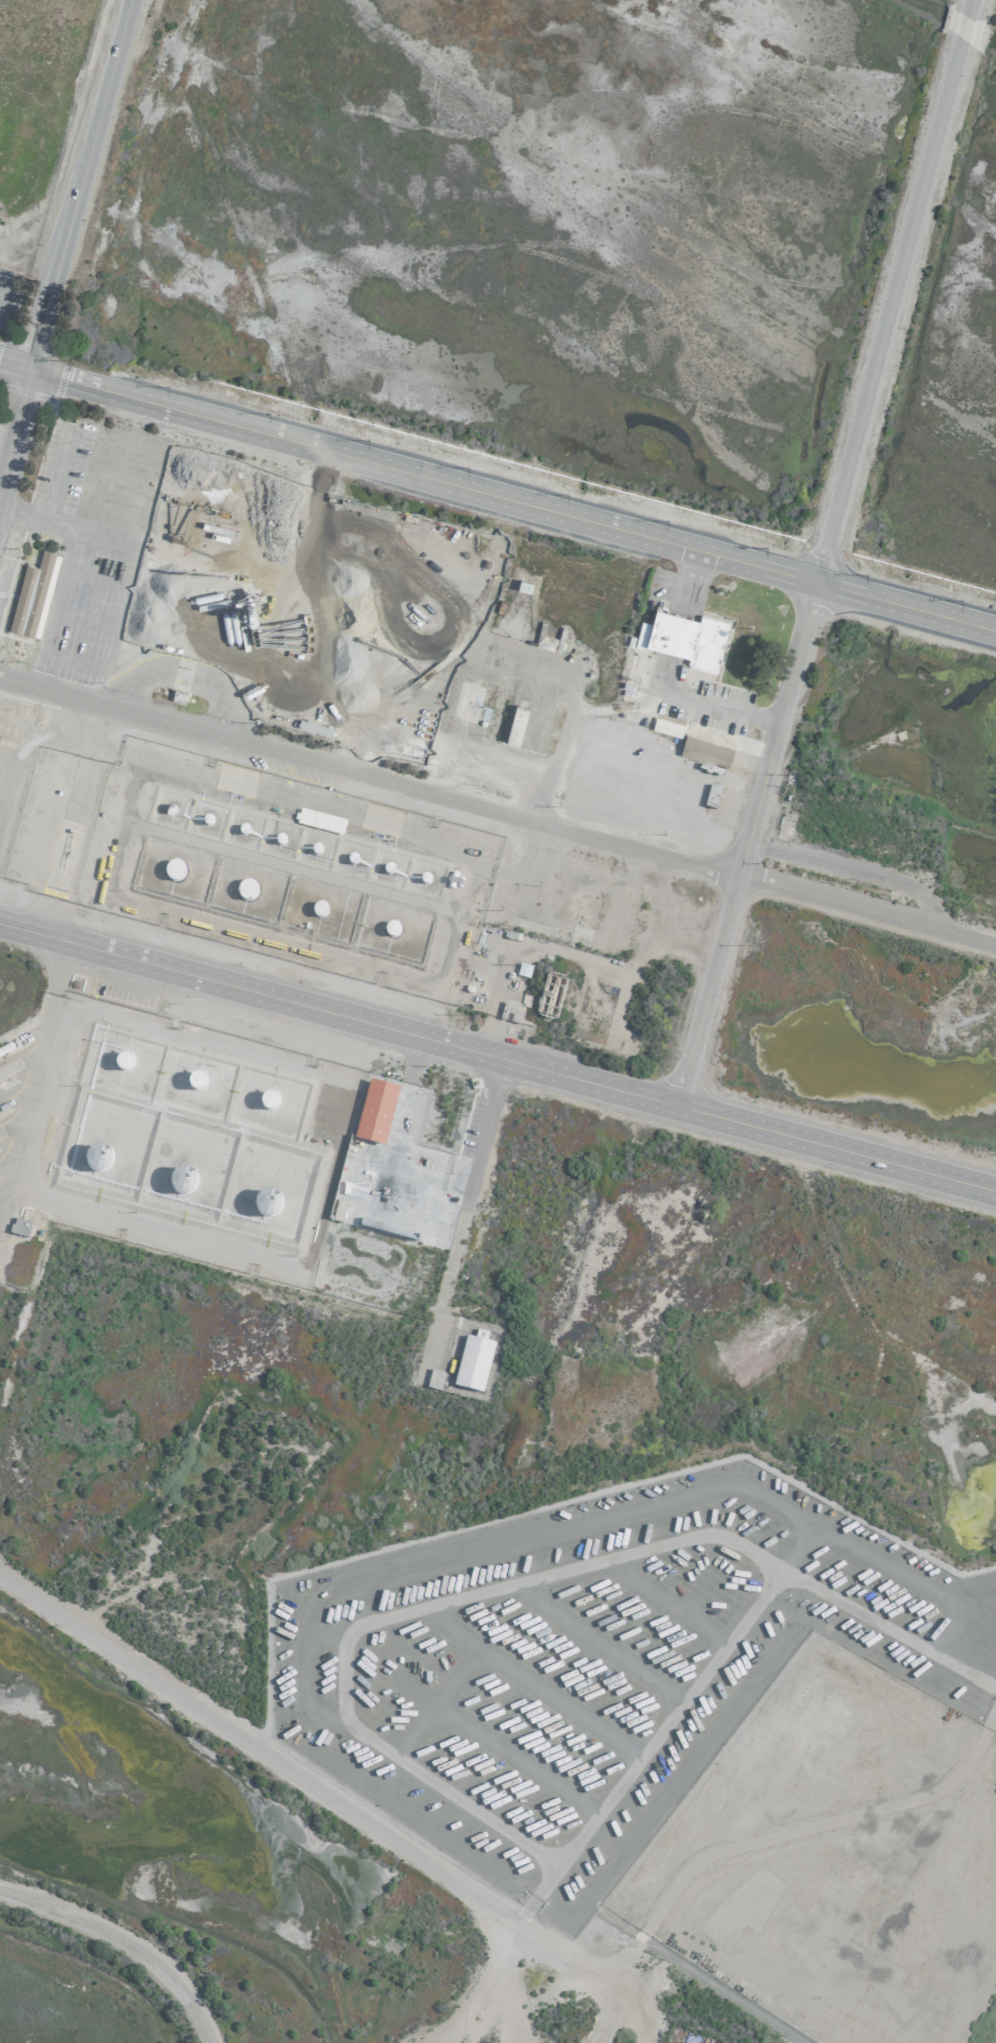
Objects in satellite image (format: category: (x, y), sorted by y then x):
road: (967, 6)
road: (962, 27)
road: (124, 37)
road: (79, 183)
road: (15, 363)
road: (15, 423)
road: (512, 499)
road: (816, 573)
building: (522, 584)
building: (32, 595)
building: (683, 636)
road: (704, 702)
building: (514, 723)
building: (665, 725)
building: (704, 751)
building: (711, 794)
road: (497, 813)
building: (319, 820)
building: (522, 969)
building: (508, 1011)
airport: (498, 1021)
road: (498, 1058)
road: (32, 1067)
building: (374, 1111)
road: (470, 1185)
building: (18, 1226)
building: (472, 1362)
road: (505, 1584)
road: (268, 1755)
road: (595, 1811)
road: (534, 1893)
road: (123, 1942)

